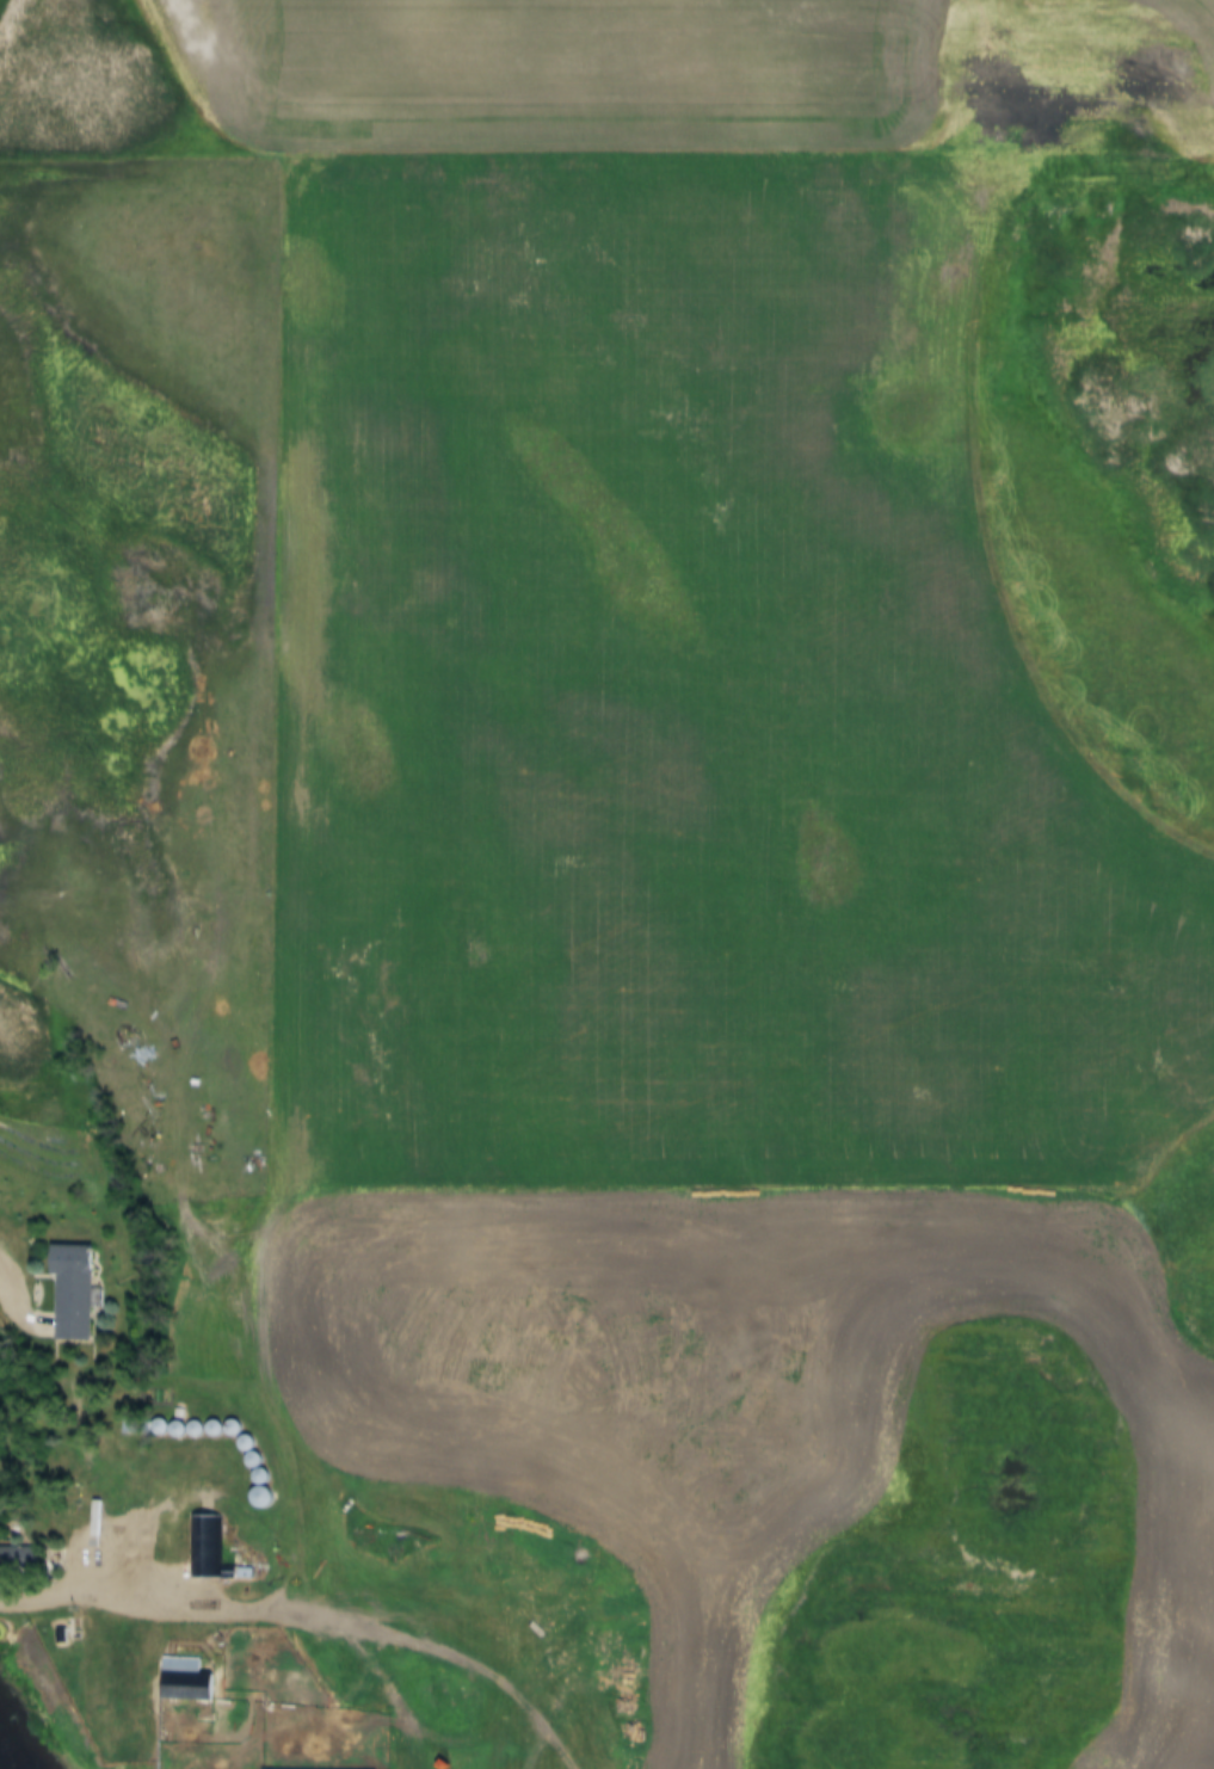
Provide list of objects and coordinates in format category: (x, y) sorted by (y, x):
road: (4, 1266)
building: (69, 1292)
building: (168, 1429)
building: (204, 1546)
building: (17, 1557)
road: (128, 1598)
road: (436, 1651)
building: (184, 1688)

